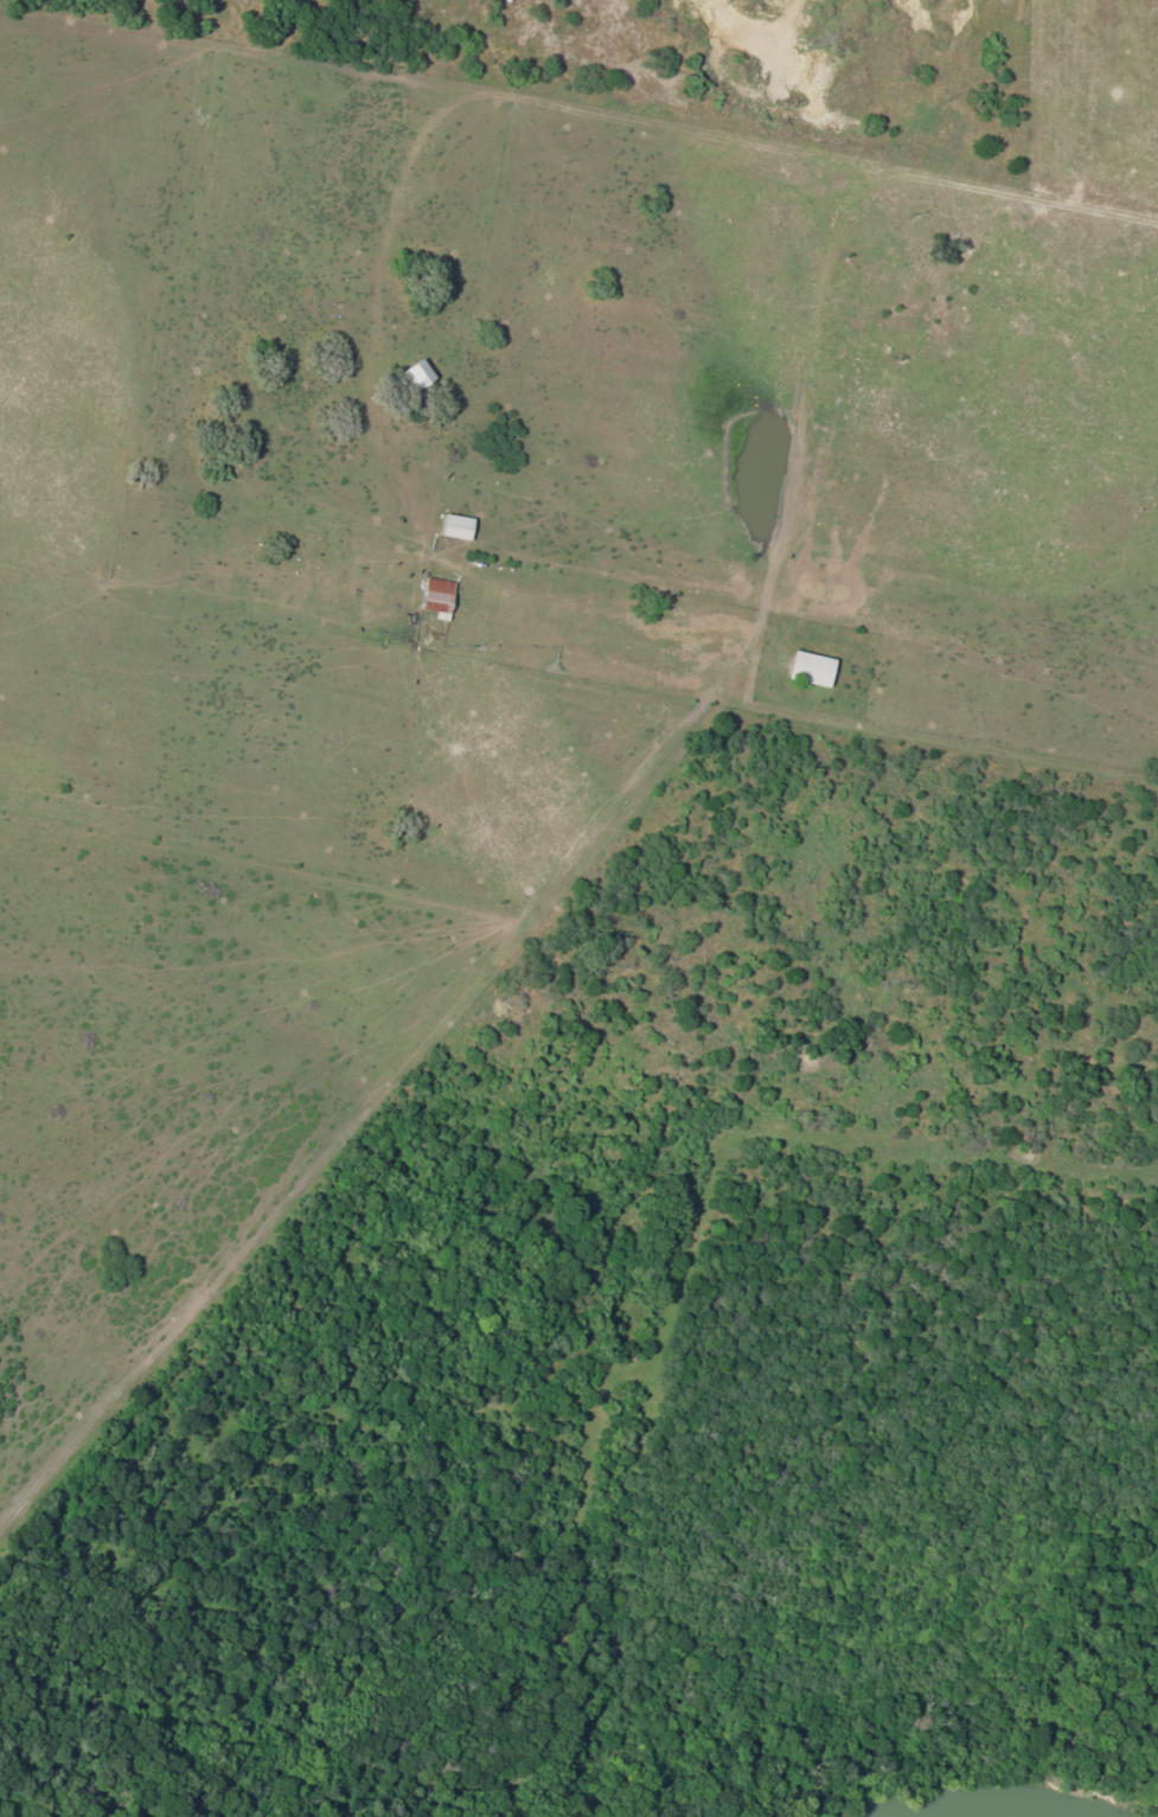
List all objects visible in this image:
building: (417, 376)
building: (455, 527)
building: (810, 668)

